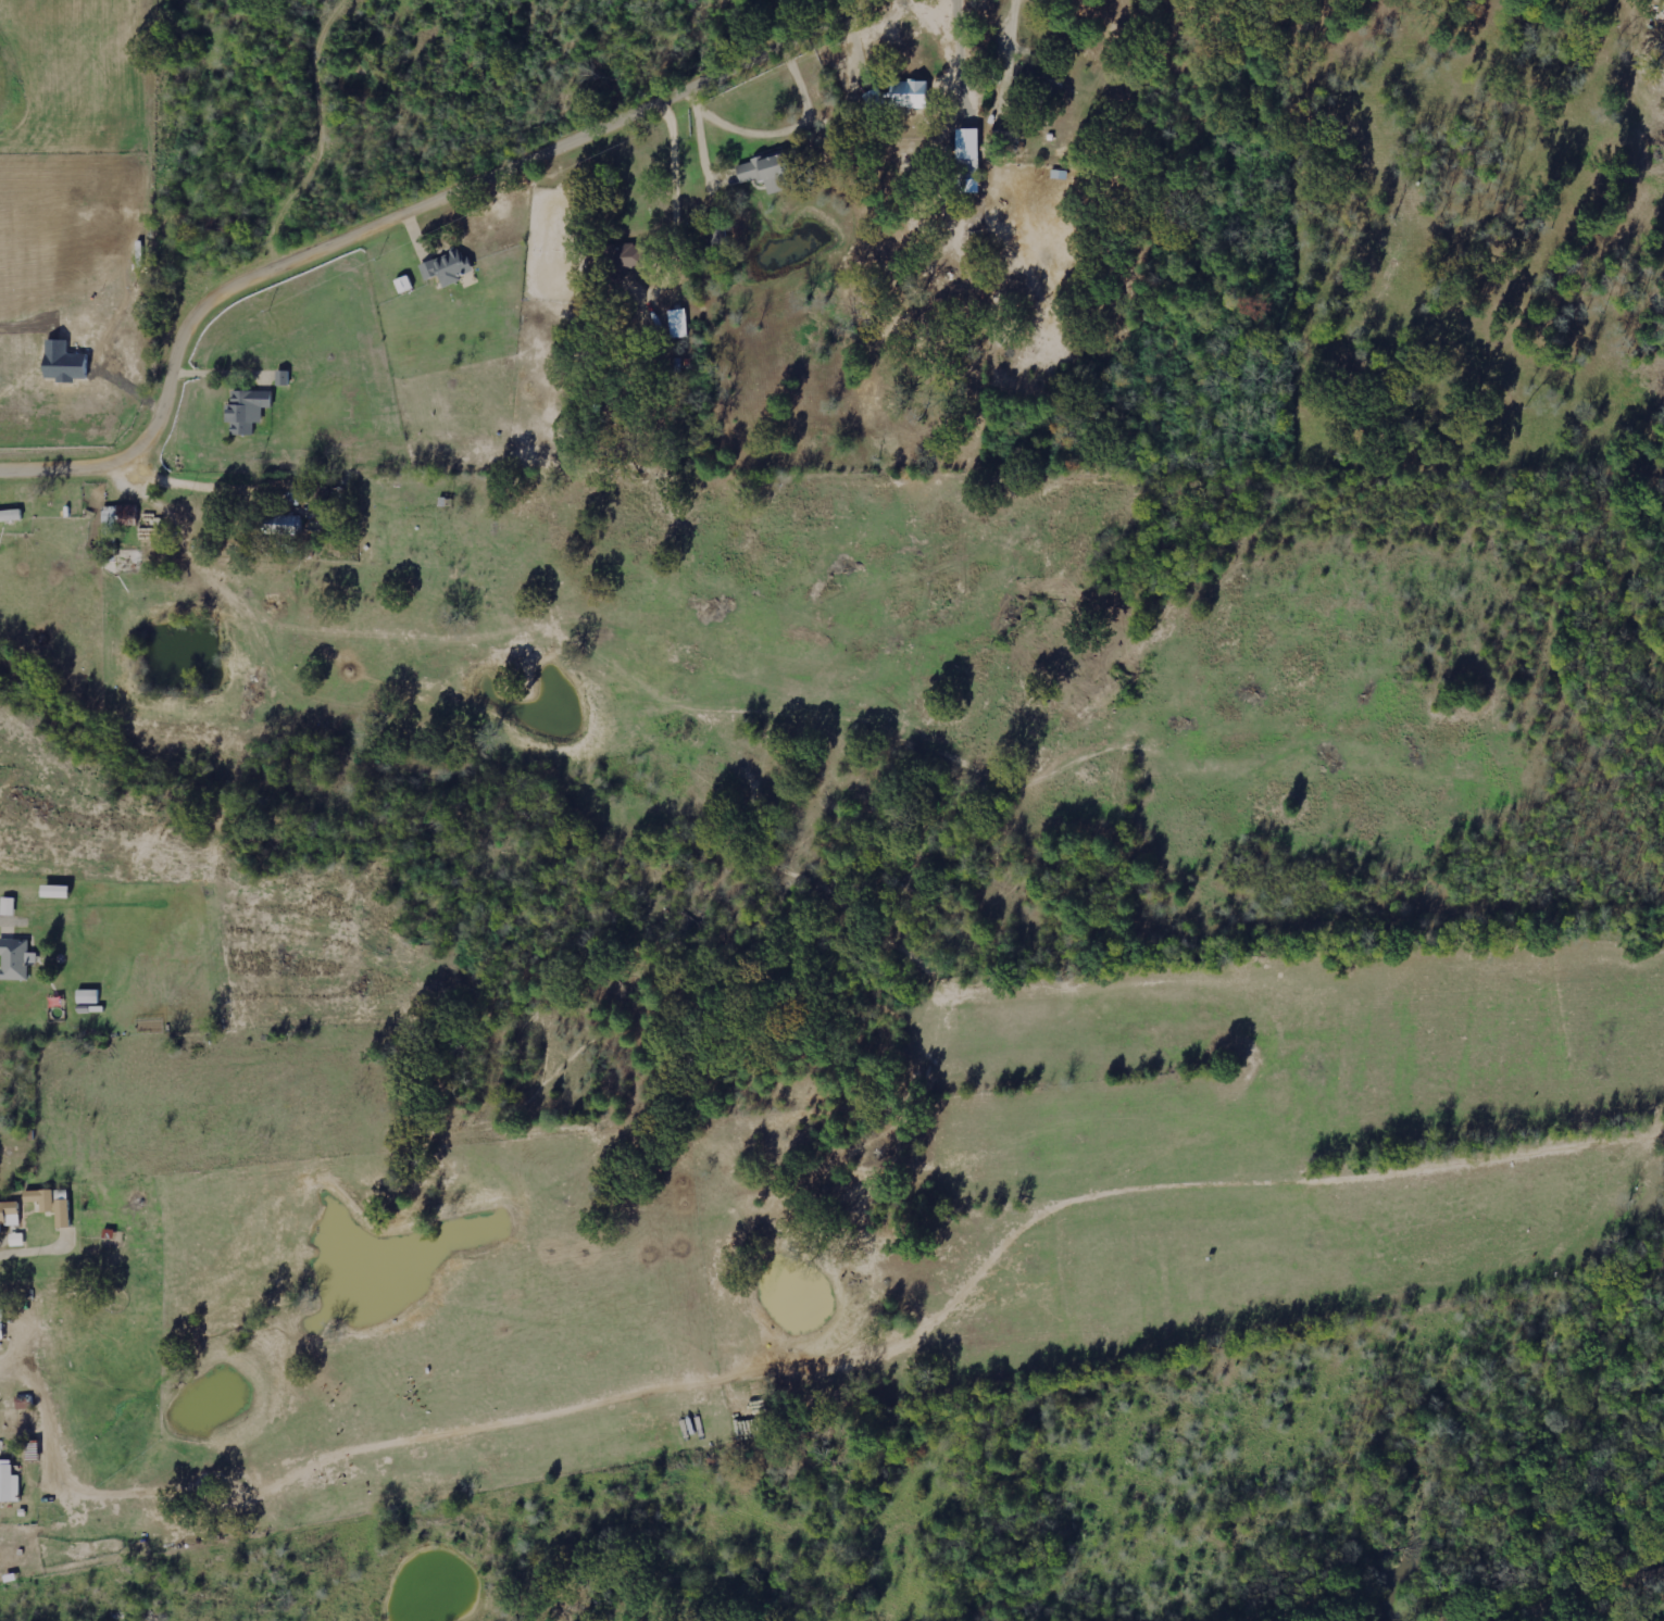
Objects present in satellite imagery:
building: (910, 93)
building: (778, 172)
road: (411, 218)
building: (629, 255)
building: (448, 267)
building: (679, 323)
building: (248, 409)
building: (285, 524)
building: (117, 528)
building: (9, 906)
building: (16, 958)
building: (41, 1197)
building: (63, 1211)
building: (10, 1212)
building: (9, 1483)
railway: (1557, 1595)

